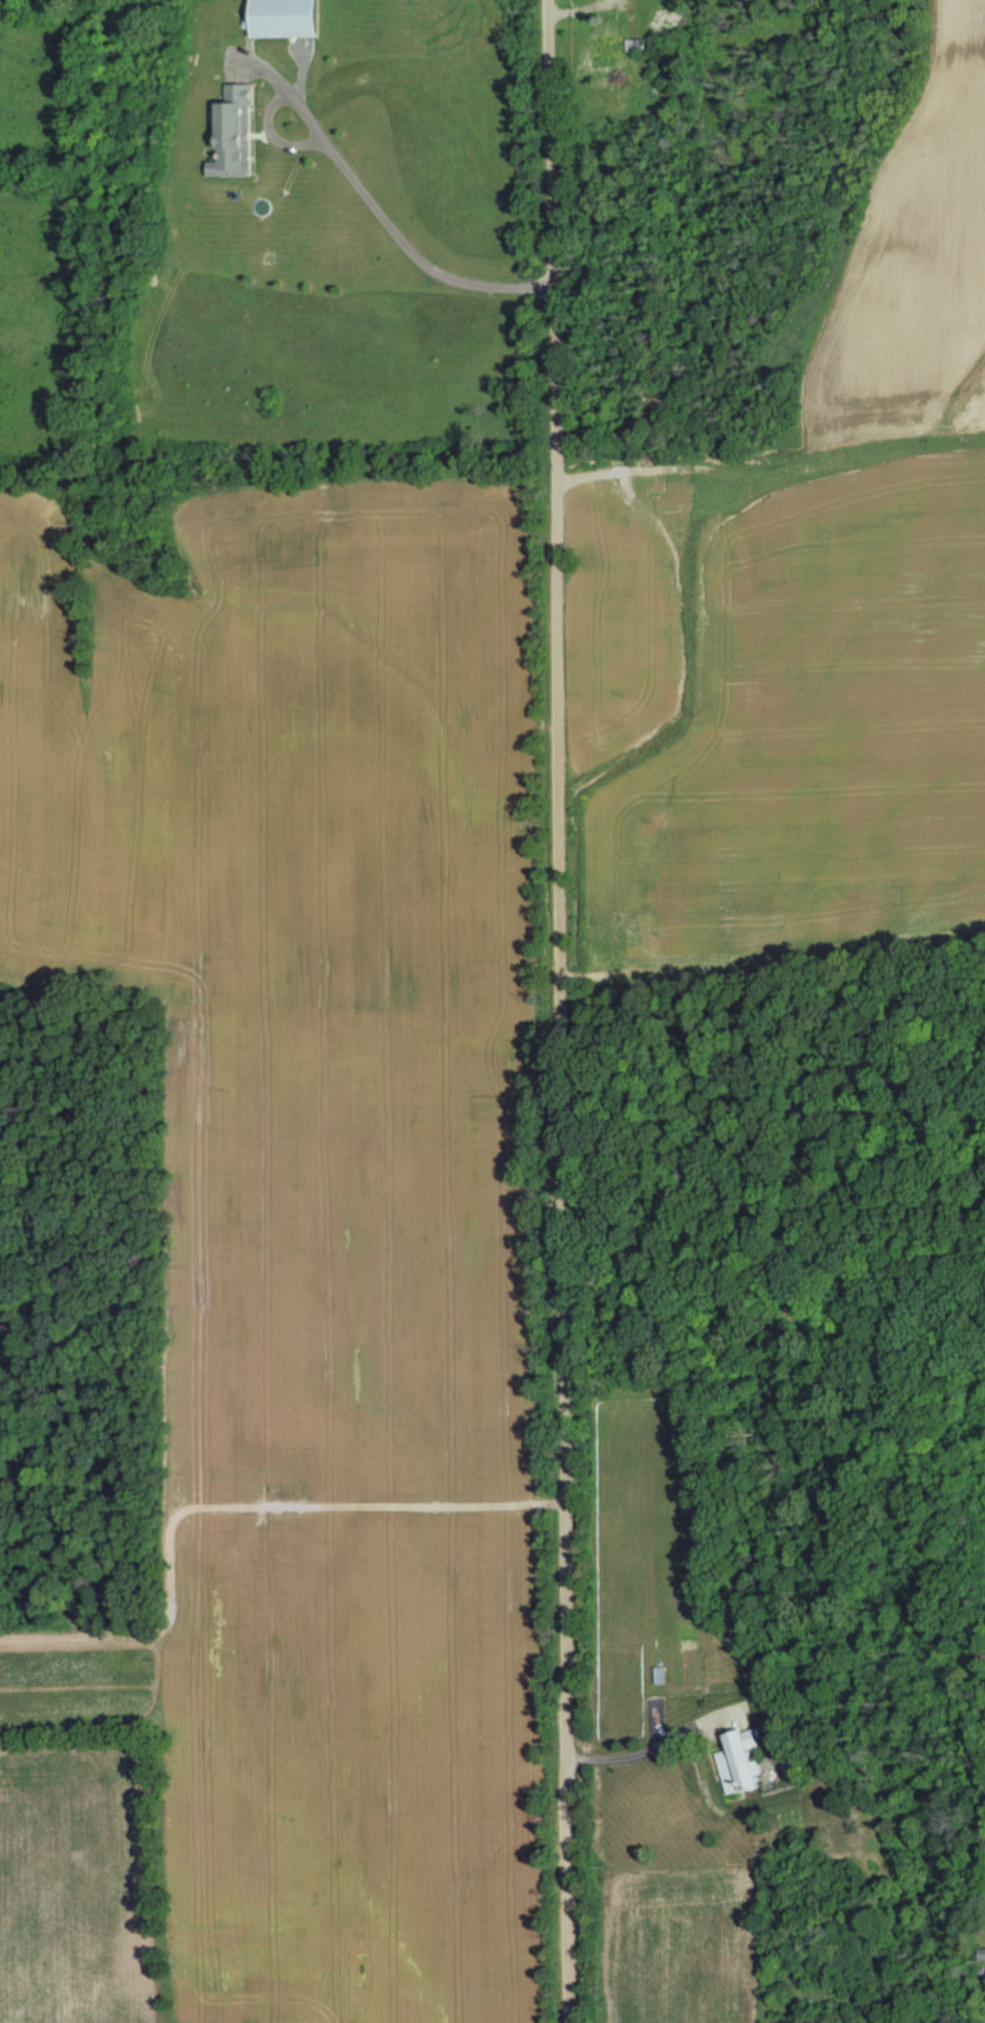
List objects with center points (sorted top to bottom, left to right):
building: (285, 17)
building: (606, 49)
building: (233, 130)
road: (362, 191)
road: (559, 1011)
road: (654, 1722)
road: (656, 1743)
building: (738, 1761)
building: (982, 1952)

